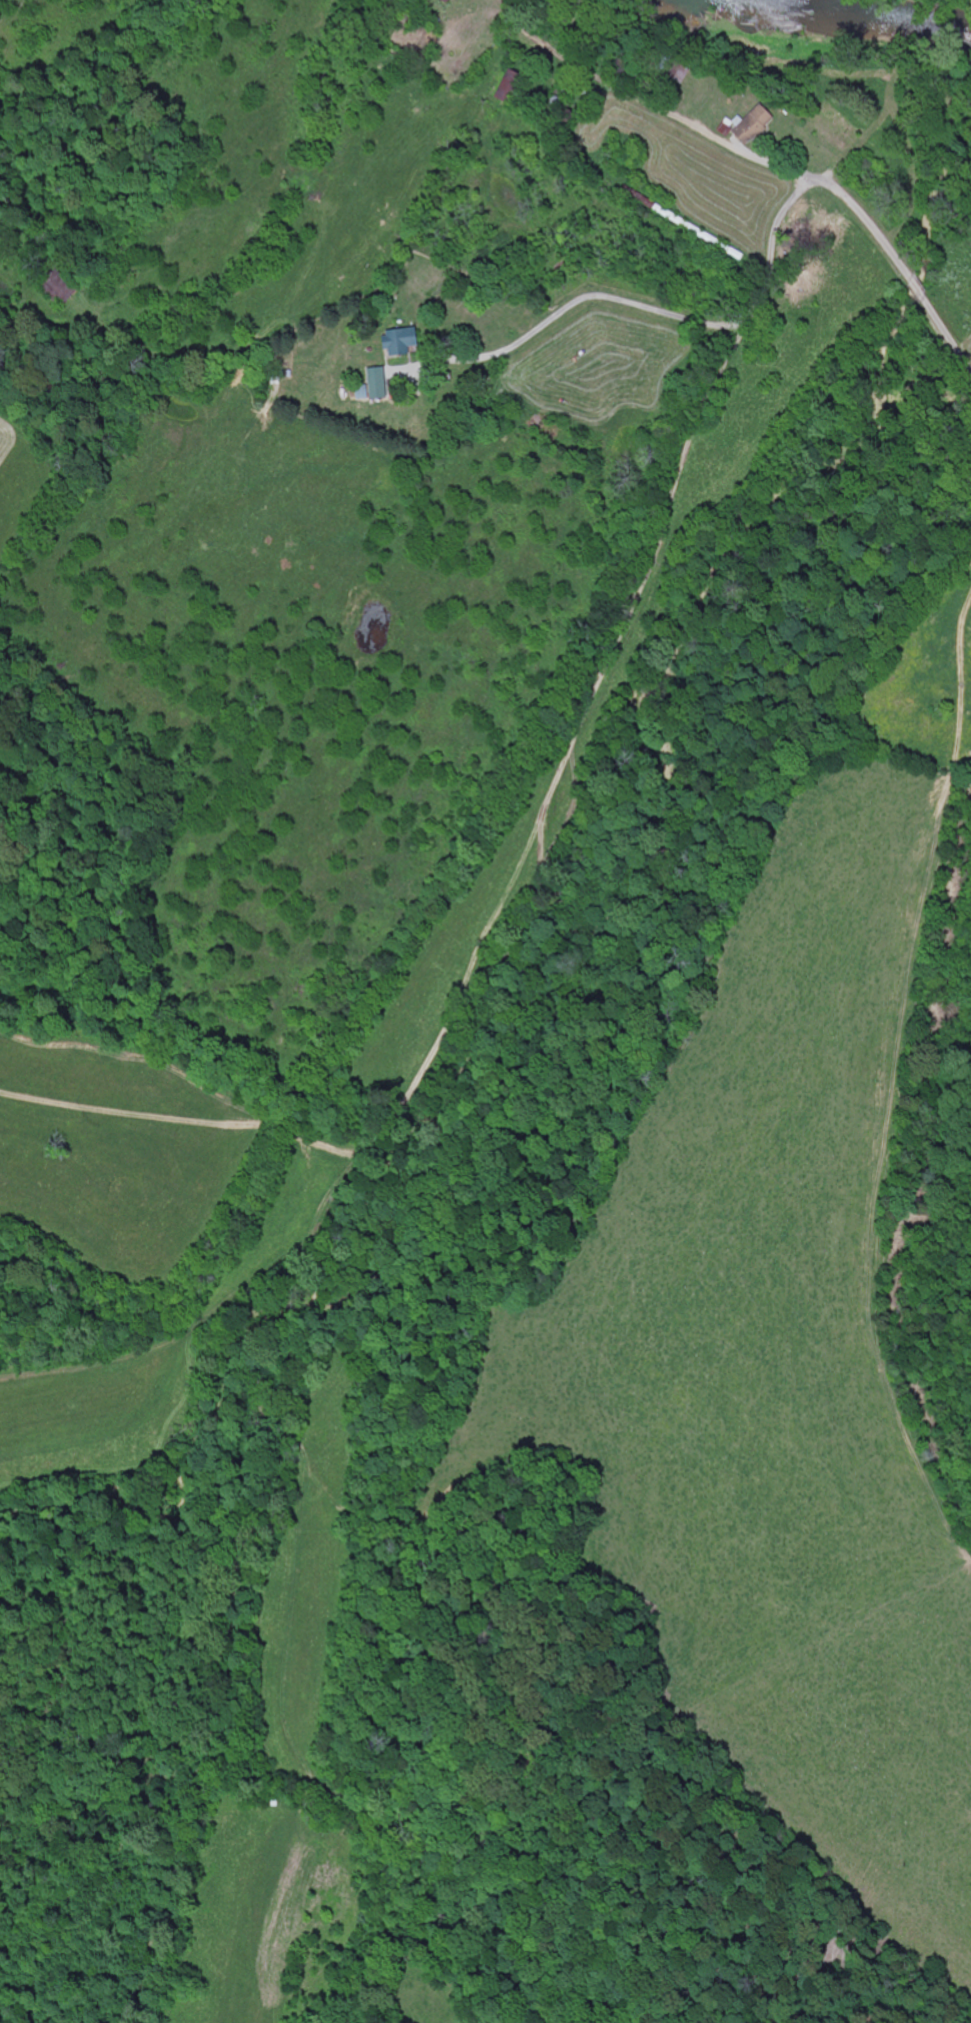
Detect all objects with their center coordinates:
river: (849, 14)
road: (697, 103)
building: (763, 117)
road: (767, 286)
road: (870, 317)
building: (403, 340)
road: (970, 361)
building: (377, 384)

